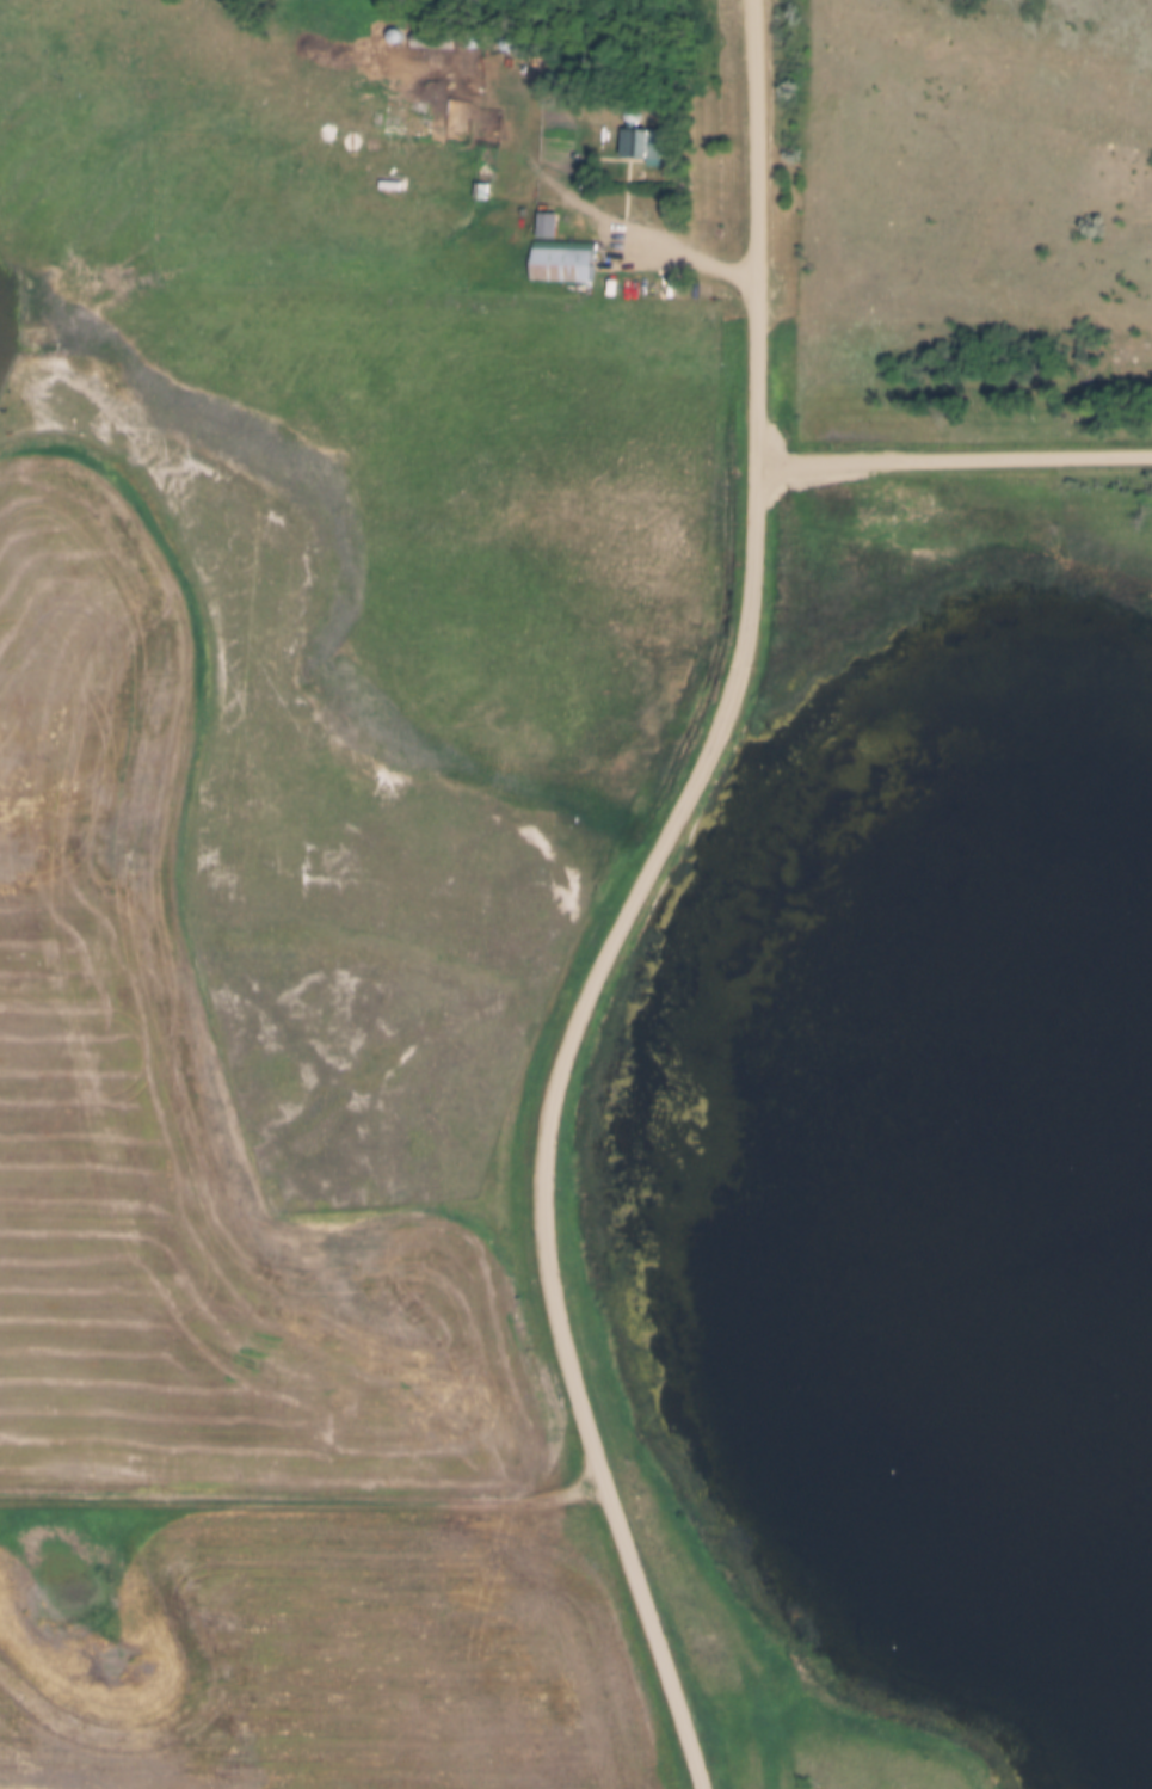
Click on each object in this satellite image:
building: (639, 145)
road: (637, 227)
building: (563, 265)
road: (953, 455)
road: (632, 902)
road: (303, 1499)

